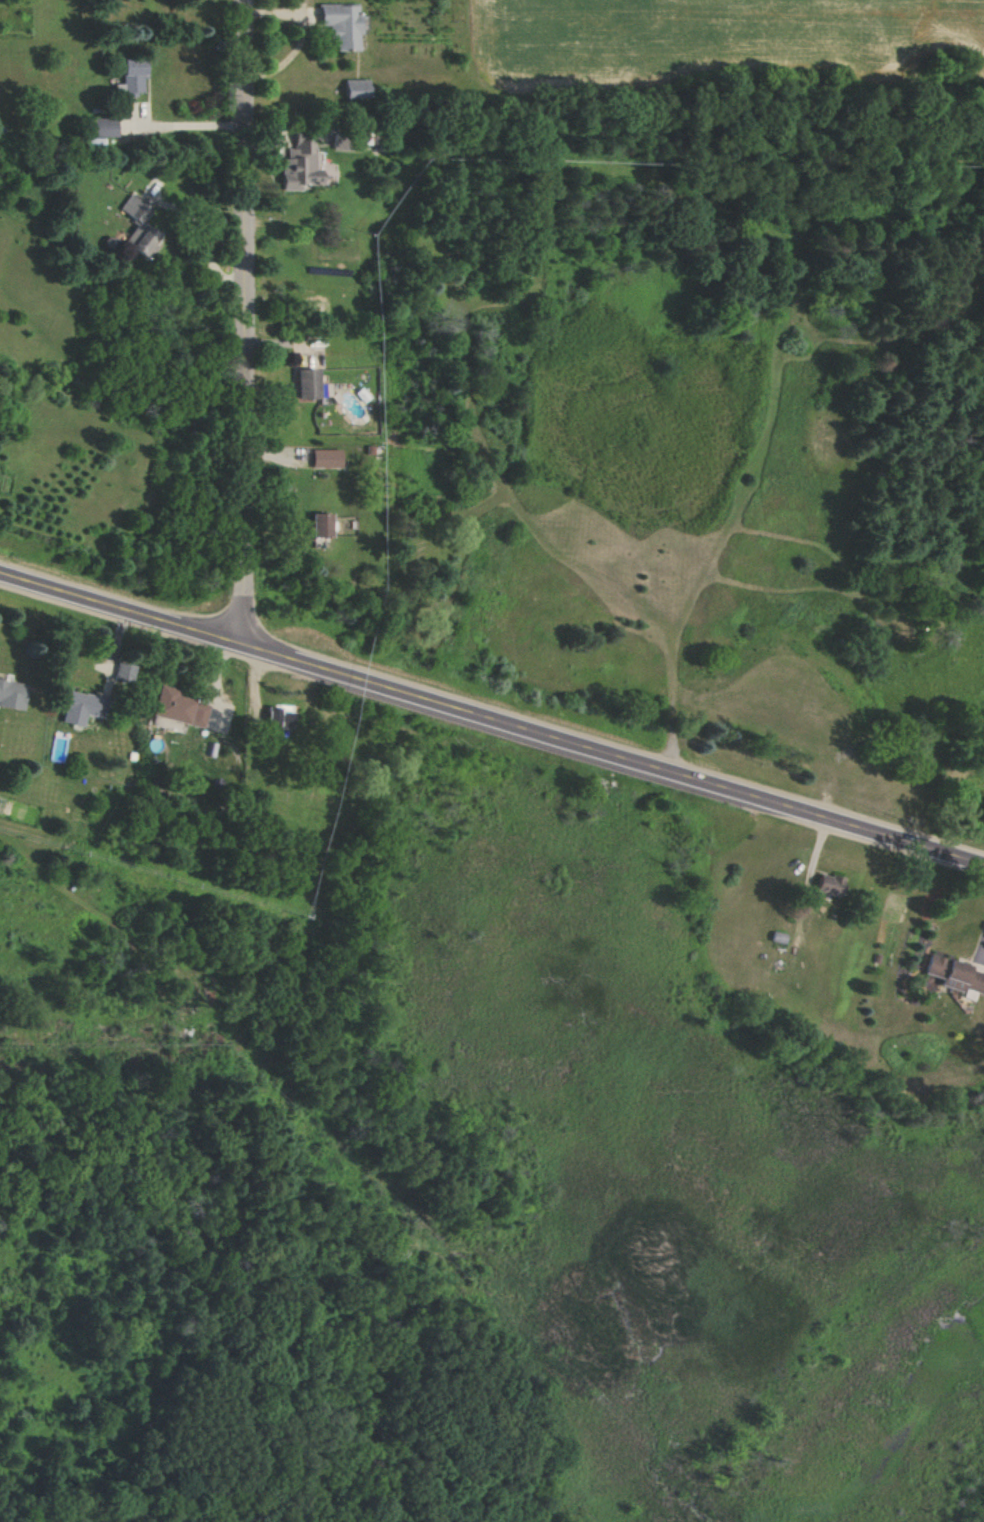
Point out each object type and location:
building: (339, 25)
building: (133, 75)
building: (355, 88)
road: (188, 124)
building: (105, 127)
building: (350, 141)
building: (296, 158)
building: (137, 228)
road: (205, 240)
road: (246, 323)
building: (308, 385)
building: (326, 458)
building: (320, 525)
road: (123, 610)
building: (123, 672)
building: (11, 694)
building: (83, 707)
building: (179, 707)
building: (281, 717)
road: (615, 756)
building: (827, 884)
building: (953, 974)

